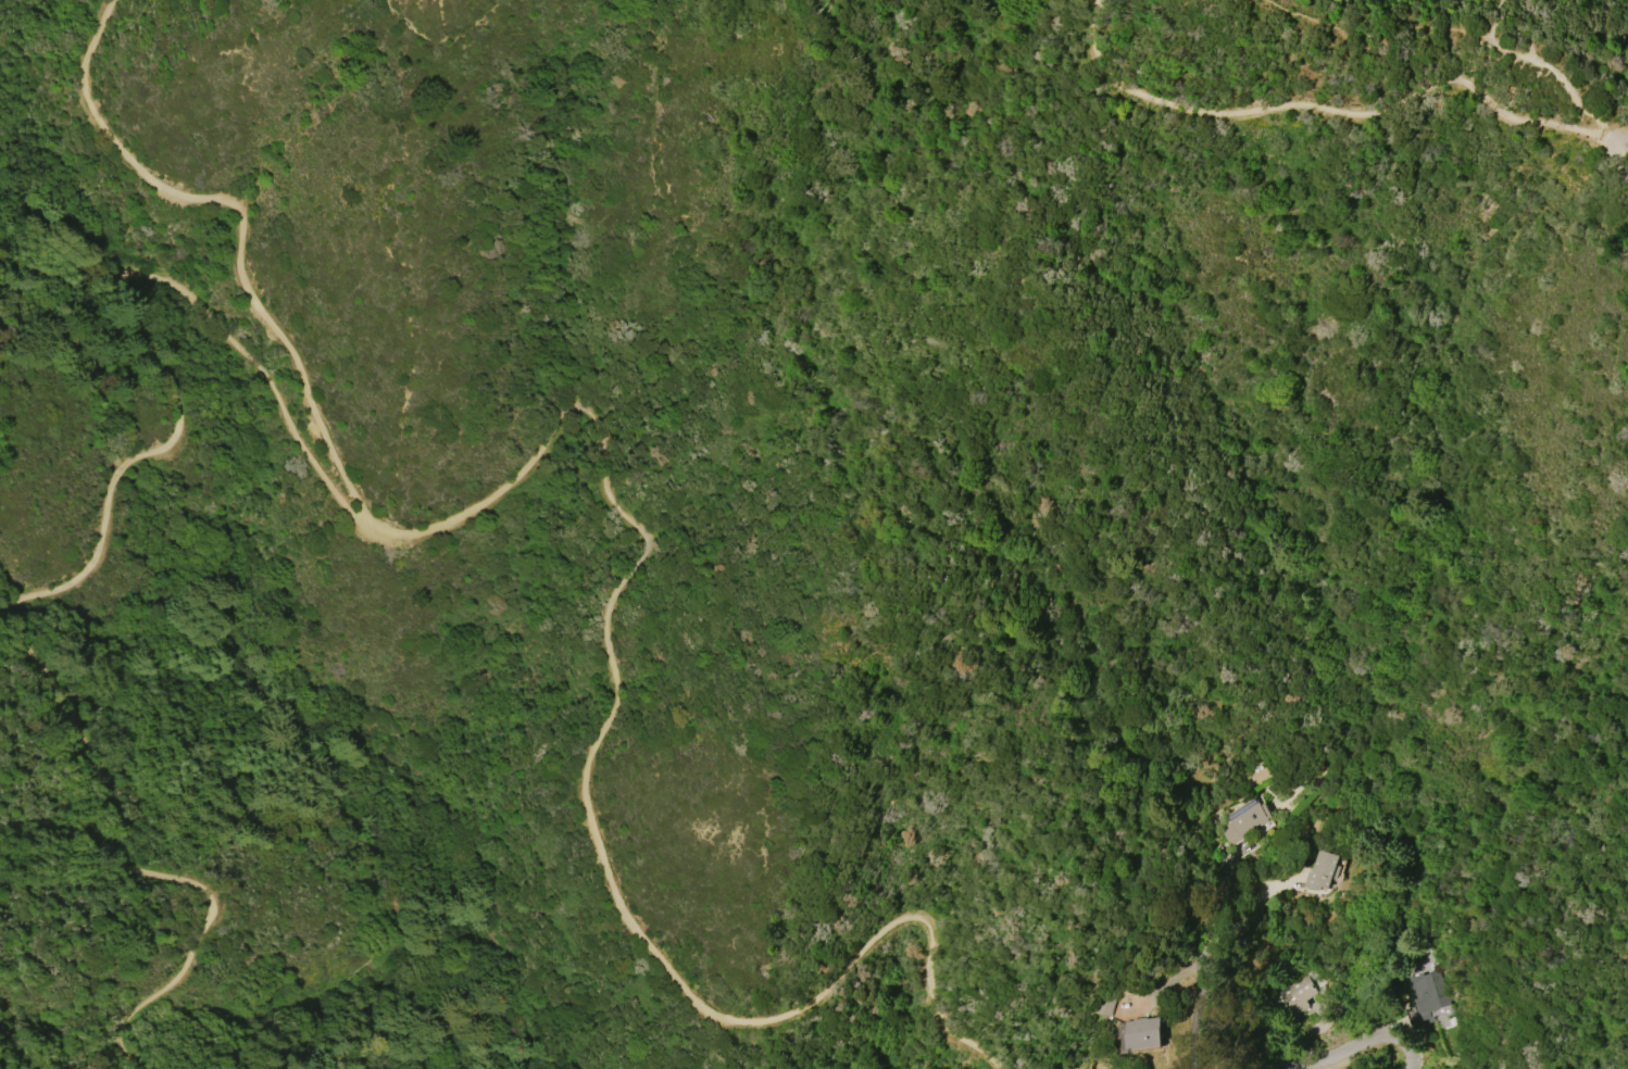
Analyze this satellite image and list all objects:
road: (1447, 28)
road: (1325, 109)
road: (1611, 139)
road: (1616, 153)
road: (1616, 187)
road: (610, 498)
road: (93, 553)
building: (1254, 772)
building: (1243, 820)
road: (358, 832)
building: (1323, 870)
road: (1206, 966)
building: (1426, 991)
building: (1294, 993)
building: (1103, 1007)
building: (1145, 1032)
road: (1364, 1040)

